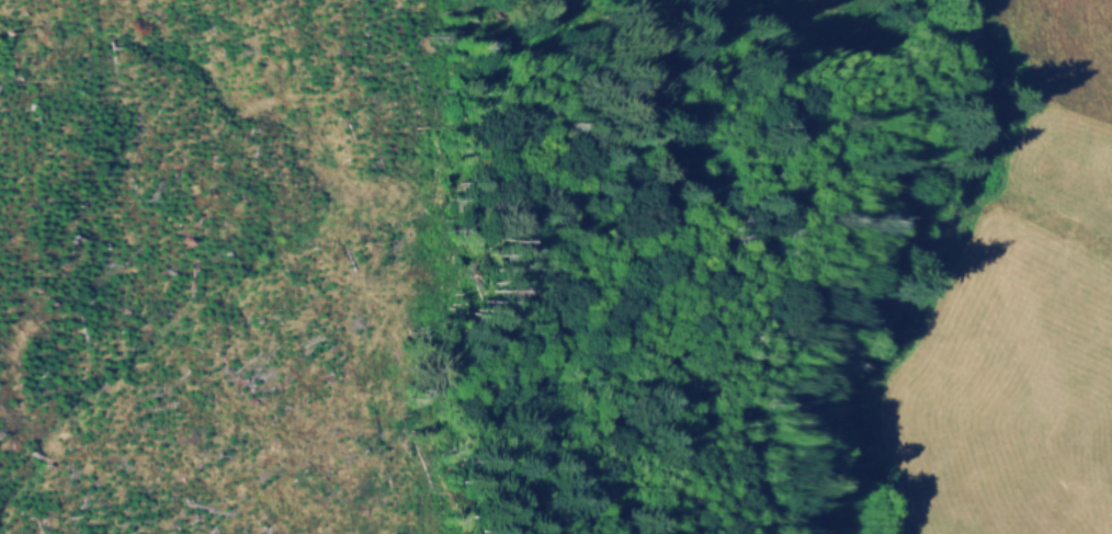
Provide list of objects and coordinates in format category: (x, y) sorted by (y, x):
road: (909, 269)

